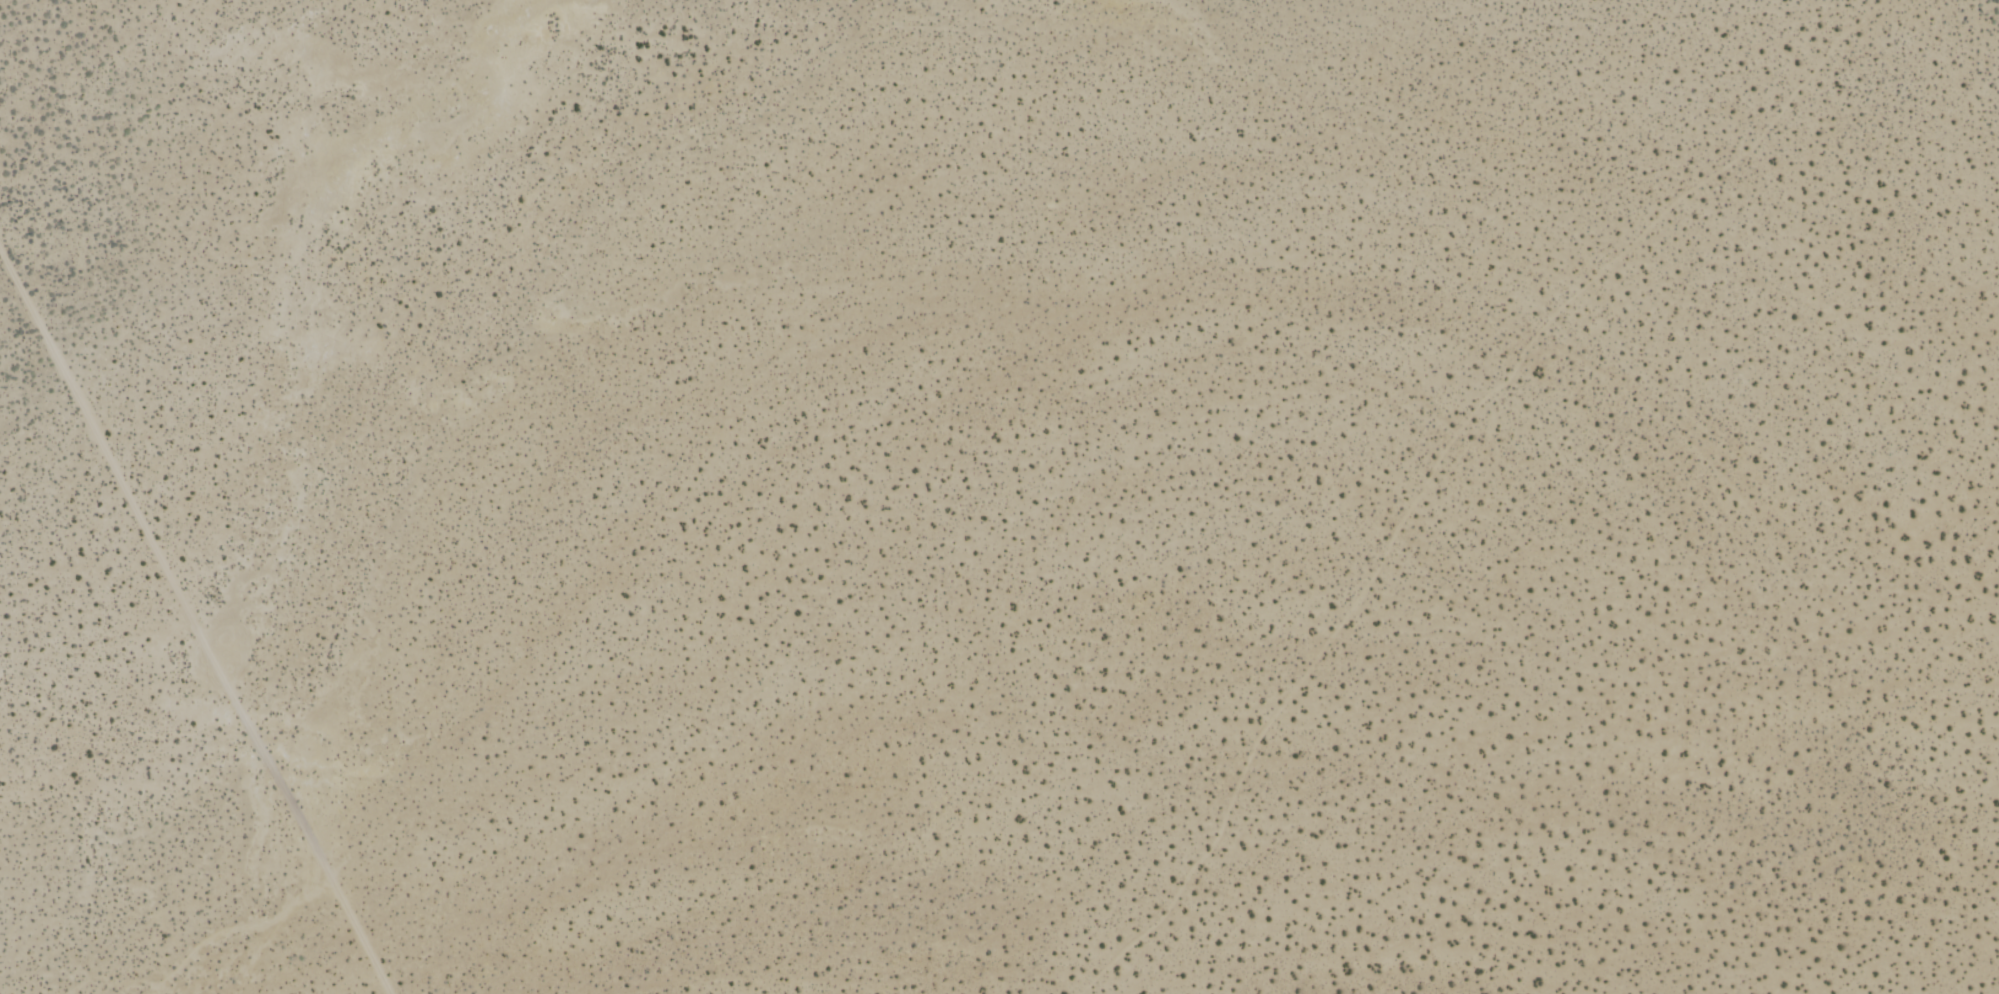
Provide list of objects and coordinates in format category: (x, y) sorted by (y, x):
road: (195, 627)

